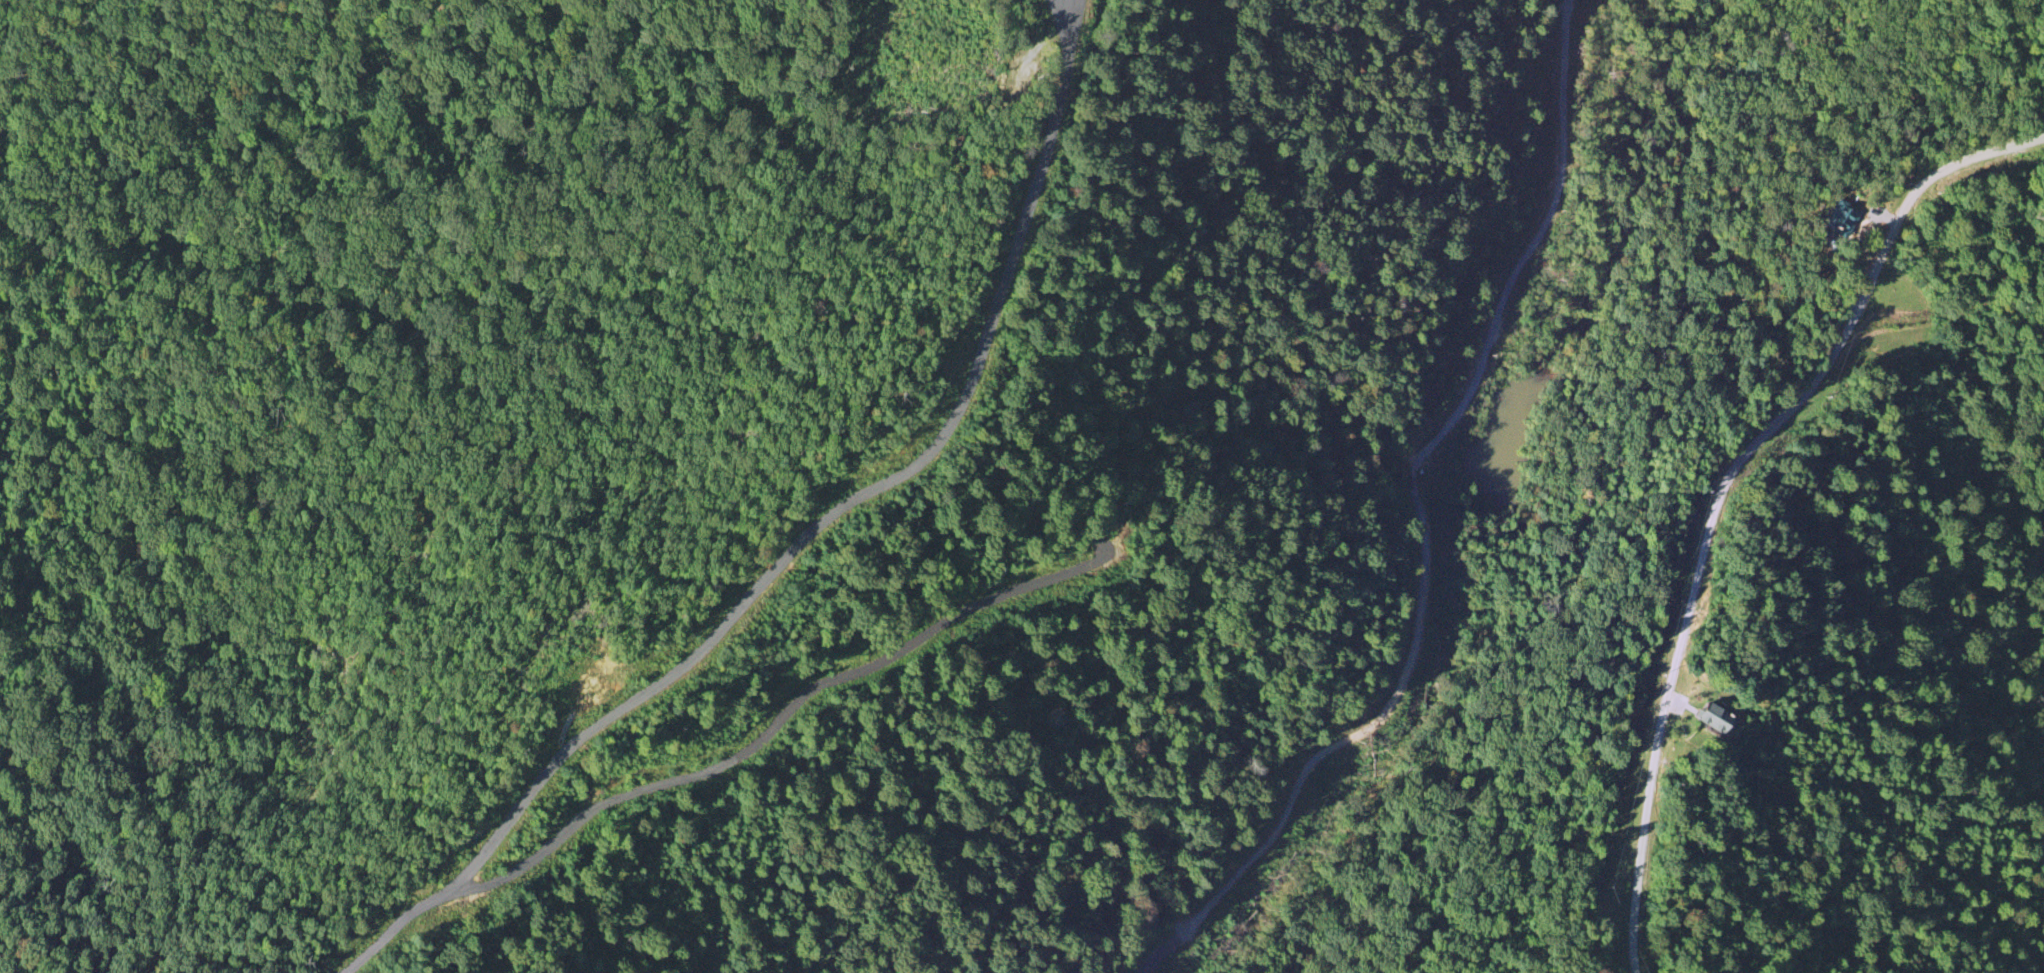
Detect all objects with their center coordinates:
building: (1842, 219)
road: (1720, 483)
road: (1425, 522)
road: (801, 539)
building: (1721, 721)

